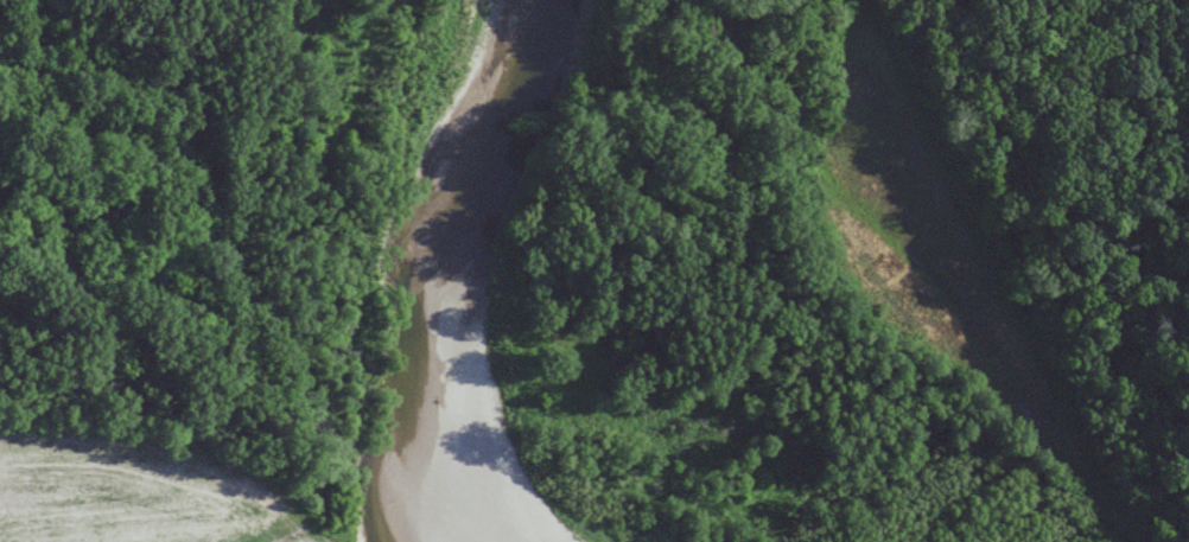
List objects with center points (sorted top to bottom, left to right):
river: (453, 275)
river: (977, 495)

